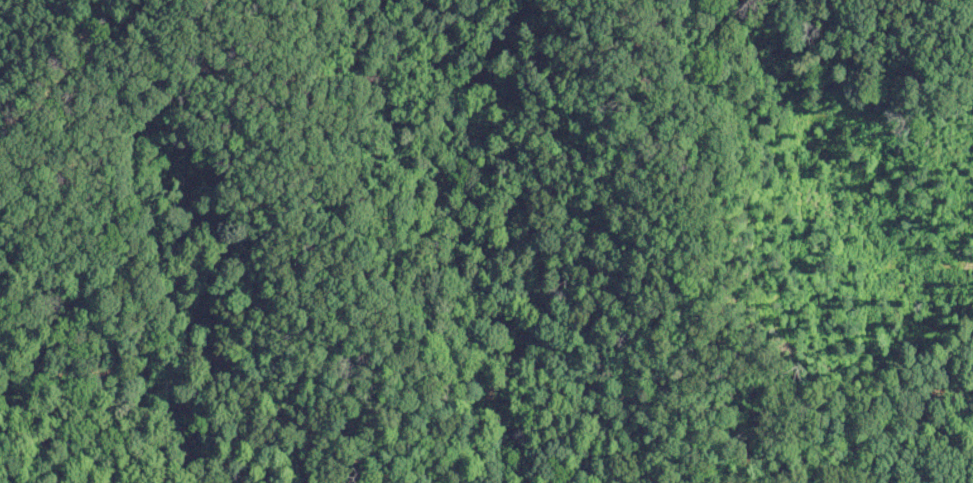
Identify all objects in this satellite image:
road: (81, 88)
road: (222, 376)
road: (702, 424)

